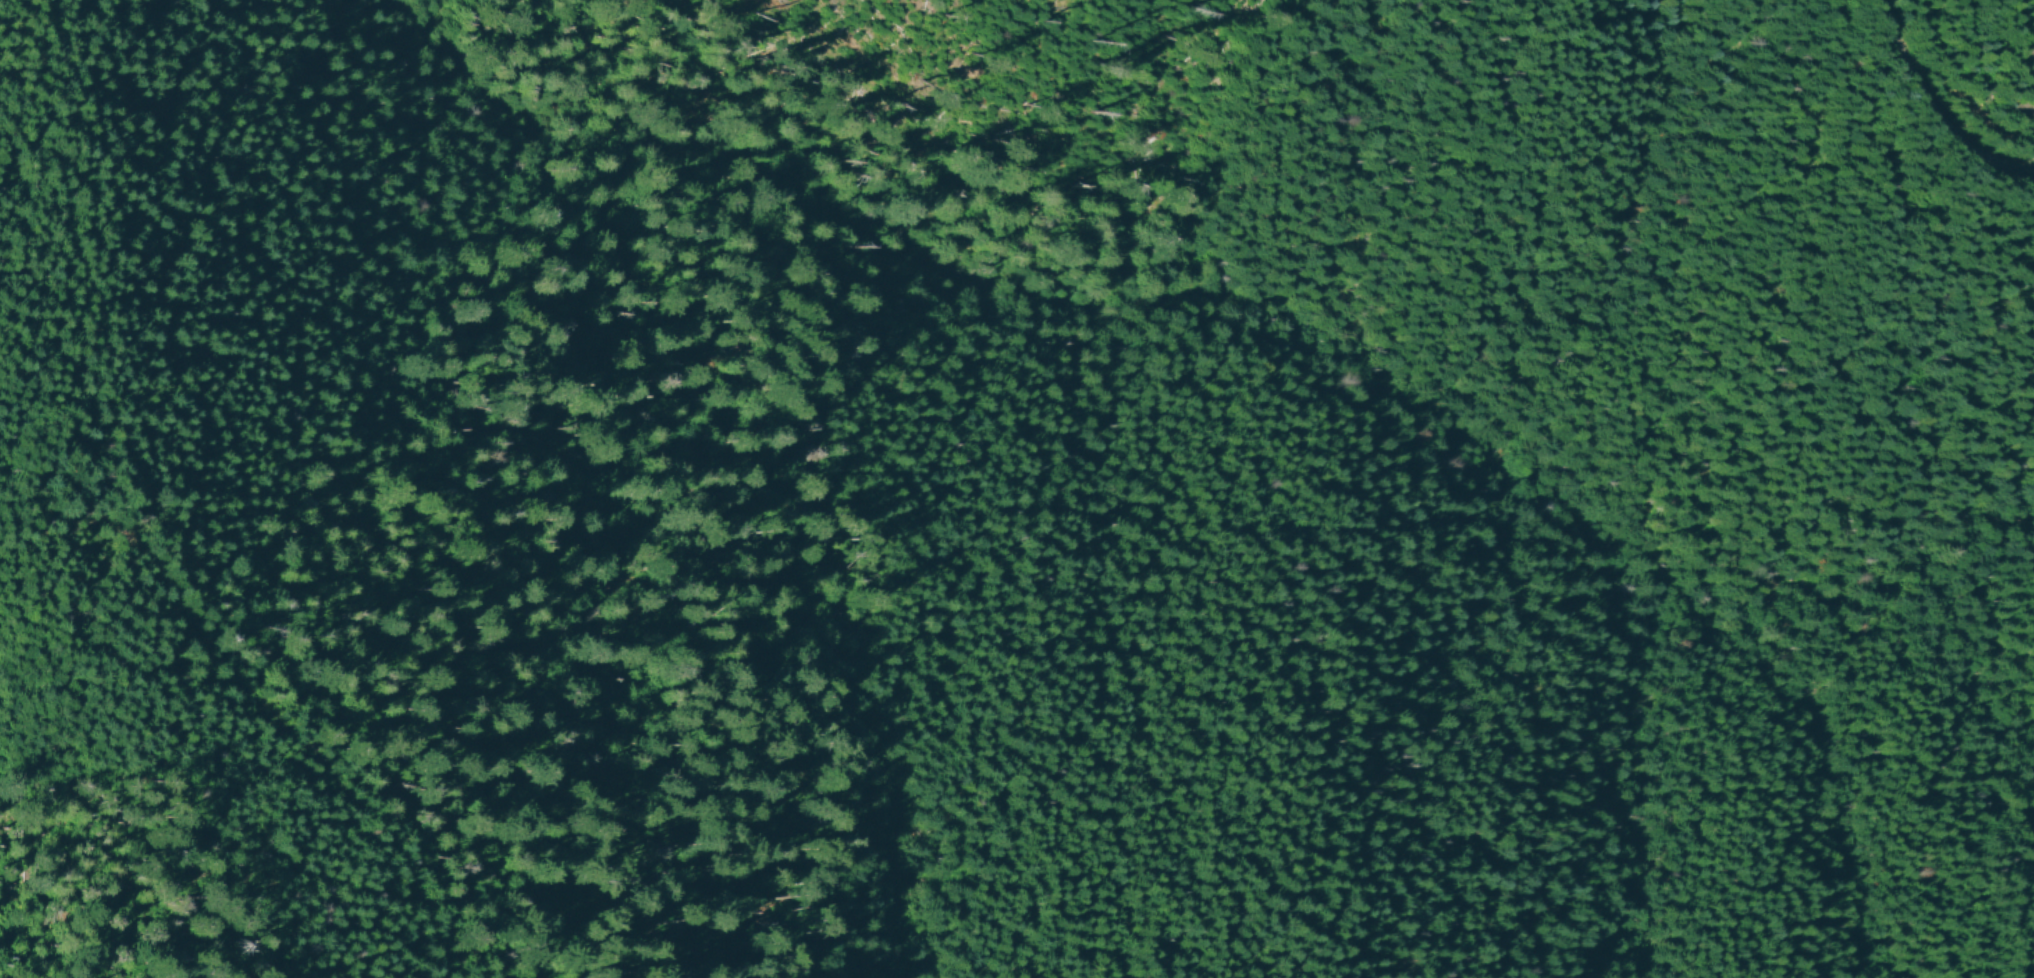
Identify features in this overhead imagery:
road: (1927, 112)

